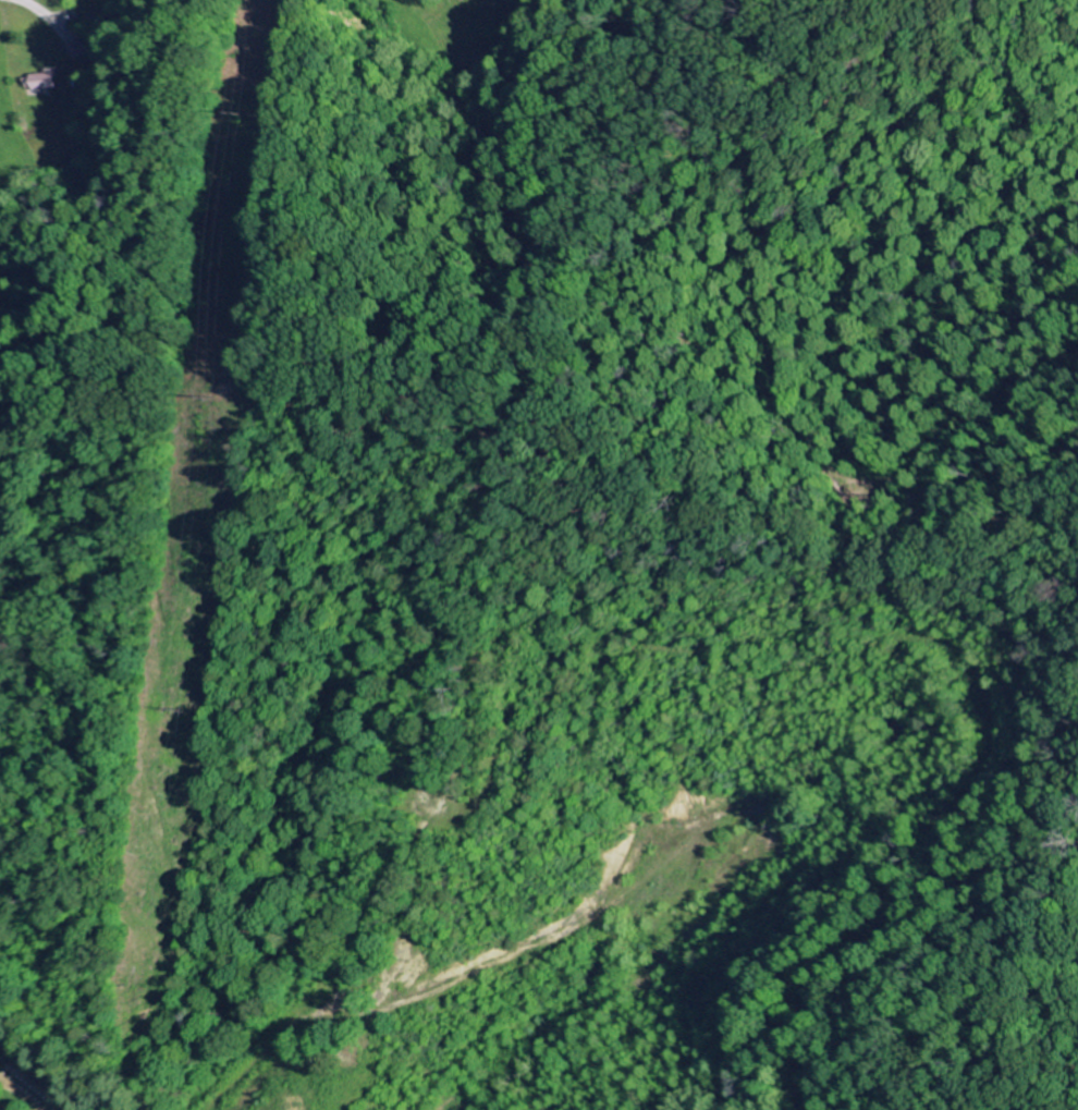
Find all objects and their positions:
building: (75, 50)
building: (47, 82)
power tower: (233, 110)
power tower: (194, 397)
power tower: (162, 710)

